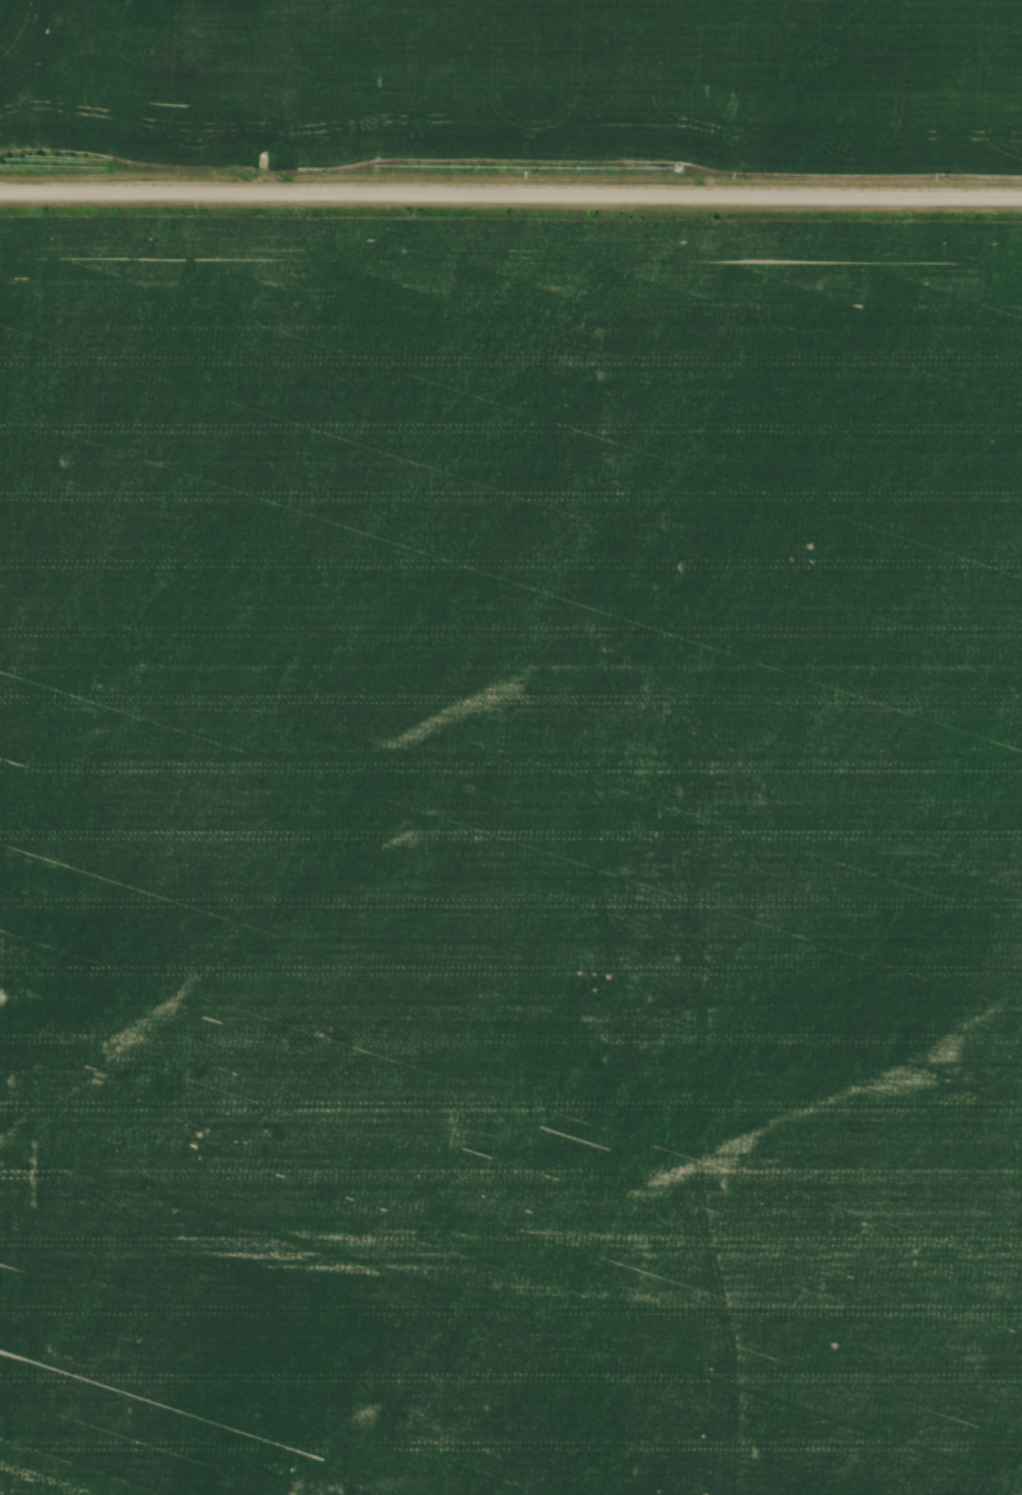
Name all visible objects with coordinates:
road: (511, 198)

